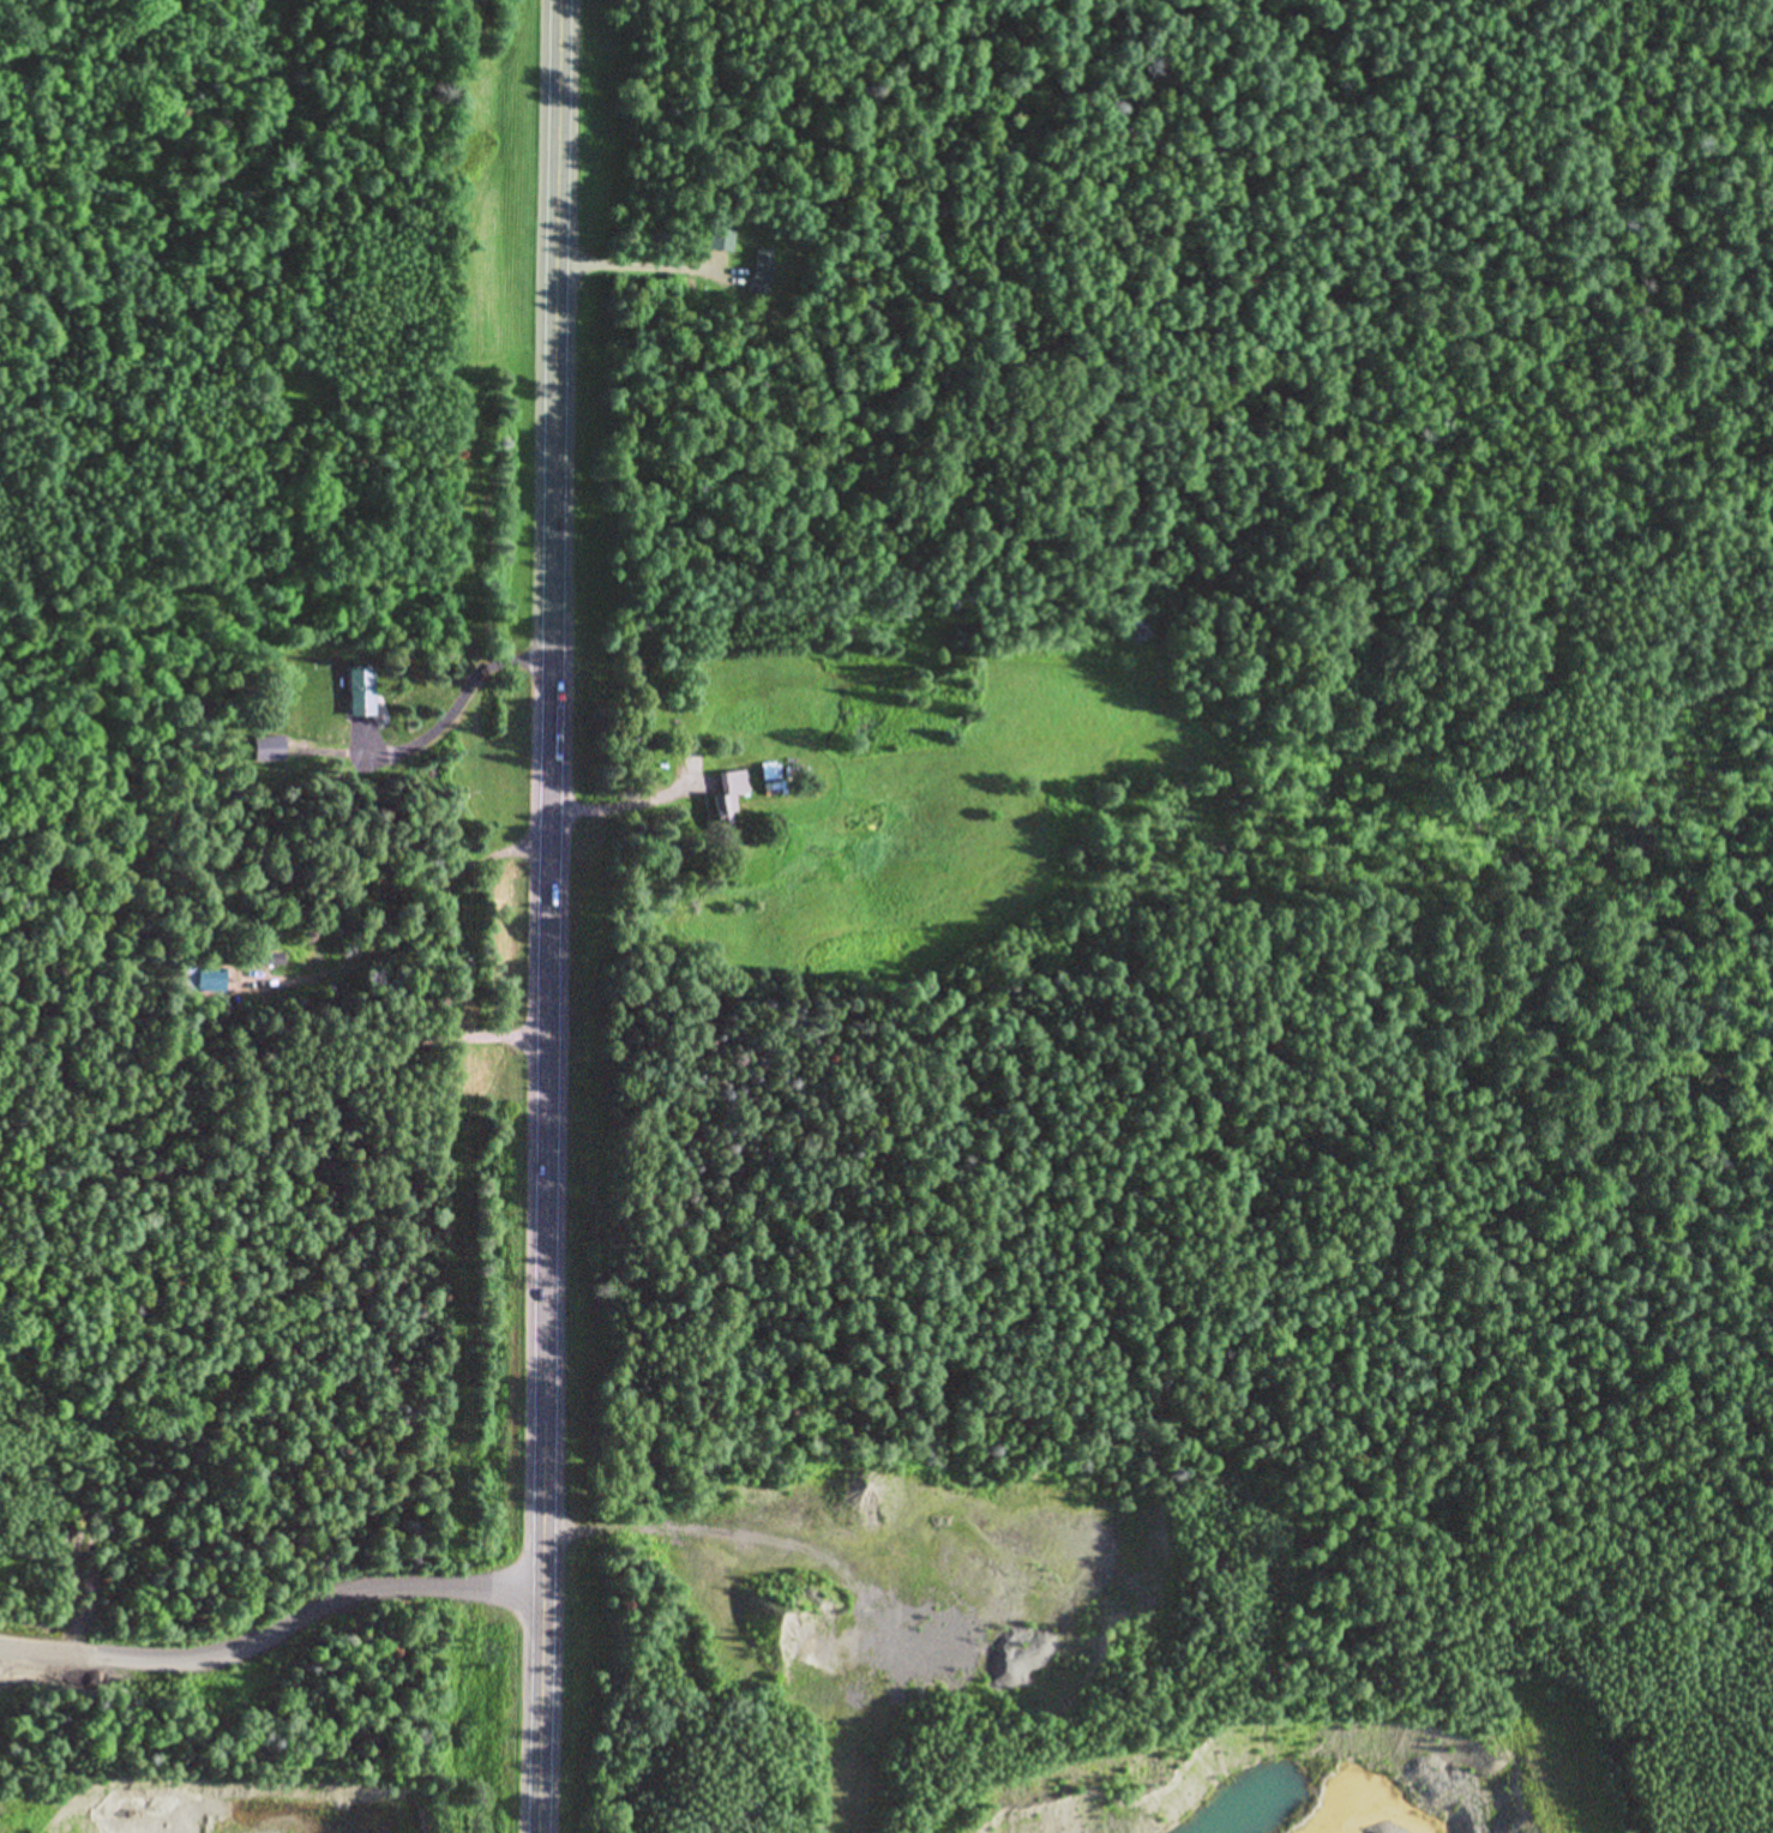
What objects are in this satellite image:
building: (722, 238)
building: (762, 271)
building: (361, 692)
building: (265, 749)
building: (728, 798)
road: (559, 916)
building: (258, 960)
building: (205, 979)
quarry: (926, 1579)
quarry: (41, 1621)
quarry: (1369, 1778)
quarry: (236, 1810)

